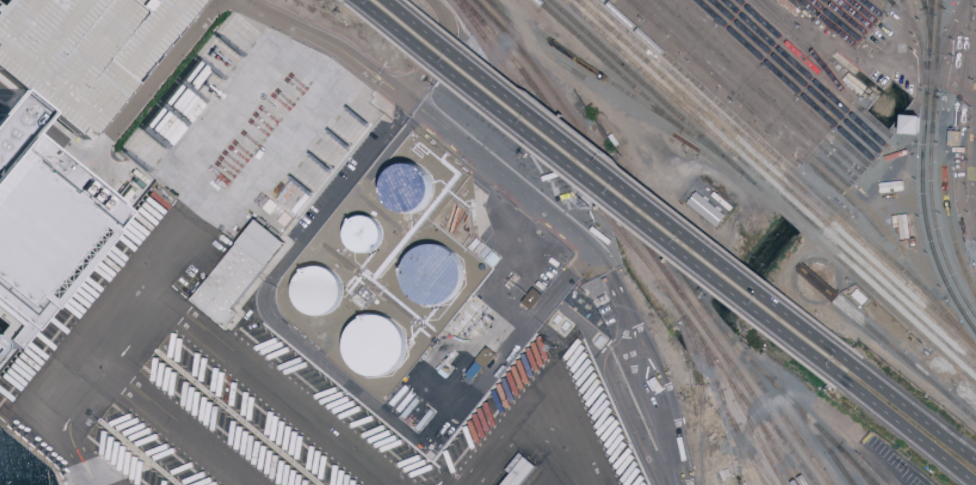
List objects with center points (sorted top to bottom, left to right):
railway: (889, 2)
railway: (922, 3)
railway: (929, 7)
road: (216, 8)
railway: (871, 8)
railway: (862, 11)
railway: (854, 14)
railway: (845, 17)
railway: (836, 20)
railway: (828, 23)
railway: (925, 26)
railway: (919, 40)
road: (336, 45)
railway: (942, 46)
road: (437, 47)
railway: (935, 48)
railway: (812, 52)
parking lot: (89, 55)
building: (90, 55)
railway: (552, 57)
railway: (608, 64)
road: (886, 66)
railway: (813, 68)
railway: (805, 73)
railway: (795, 76)
railway: (785, 79)
road: (5, 82)
railway: (775, 83)
railway: (616, 86)
railway: (765, 87)
railway: (756, 90)
railway: (745, 94)
railway: (735, 97)
road: (2, 112)
road: (121, 125)
building: (909, 125)
railway: (922, 126)
building: (957, 136)
railway: (974, 155)
railway: (971, 169)
railway: (792, 171)
railway: (783, 174)
railway: (776, 180)
road: (621, 186)
railway: (769, 186)
building: (408, 188)
storage tank: (408, 188)
railway: (762, 192)
road: (602, 194)
building: (707, 211)
railway: (932, 212)
building: (43, 233)
railway: (951, 233)
building: (366, 234)
storage tank: (366, 234)
railway: (657, 238)
railway: (642, 240)
railway: (630, 243)
road: (604, 260)
building: (248, 266)
building: (431, 275)
storage tank: (431, 275)
railway: (814, 280)
railway: (948, 288)
building: (317, 291)
storage tank: (317, 291)
building: (531, 297)
railway: (972, 327)
building: (375, 345)
storage tank: (375, 345)
railway: (904, 358)
building: (480, 363)
road: (342, 379)
railway: (700, 379)
road: (269, 382)
railway: (783, 392)
railway: (719, 397)
road: (917, 416)
railway: (829, 420)
railway: (749, 421)
railway: (814, 430)
road: (912, 436)
railway: (740, 439)
railway: (768, 441)
railway: (754, 456)
railway: (853, 465)
railway: (843, 468)
building: (519, 472)

